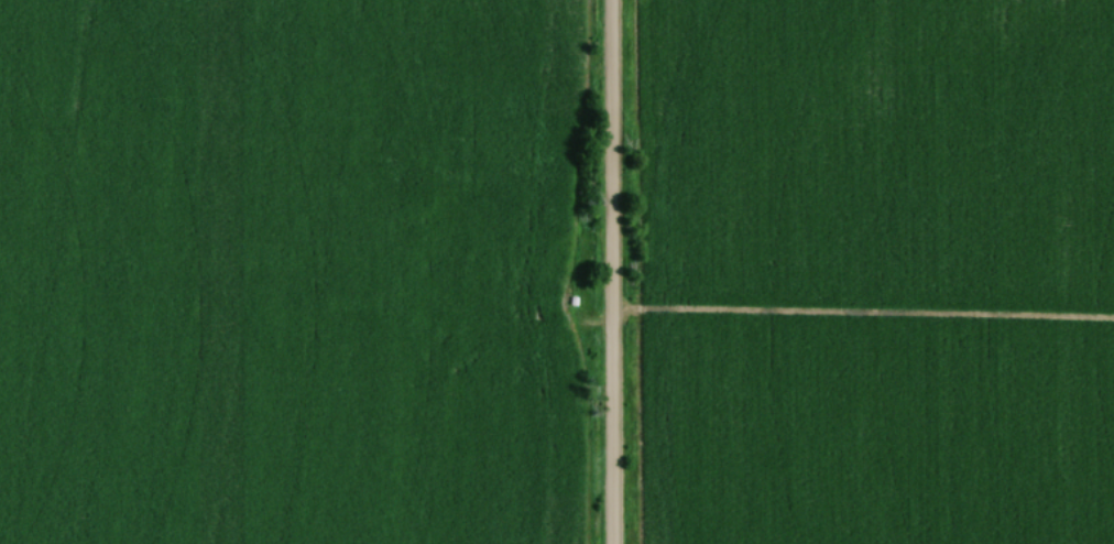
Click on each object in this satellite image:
road: (604, 271)

